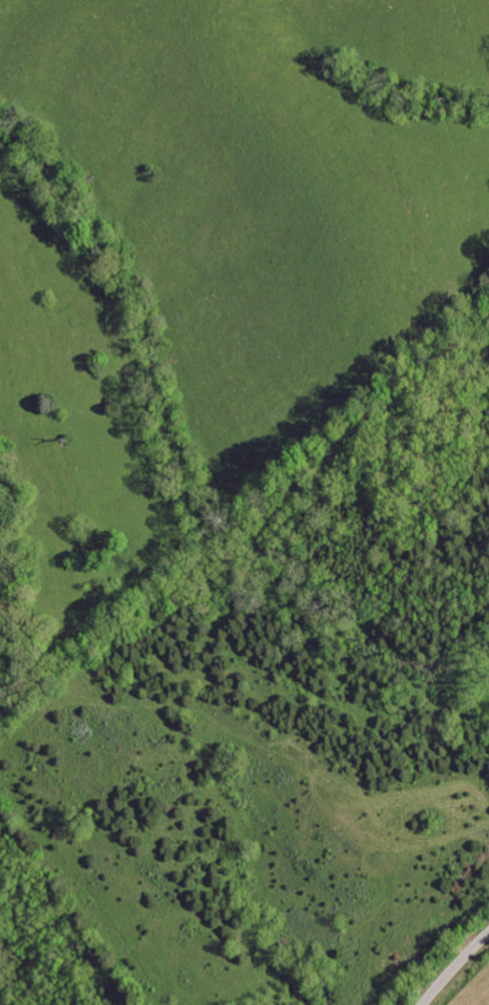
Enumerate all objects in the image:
road: (455, 968)

